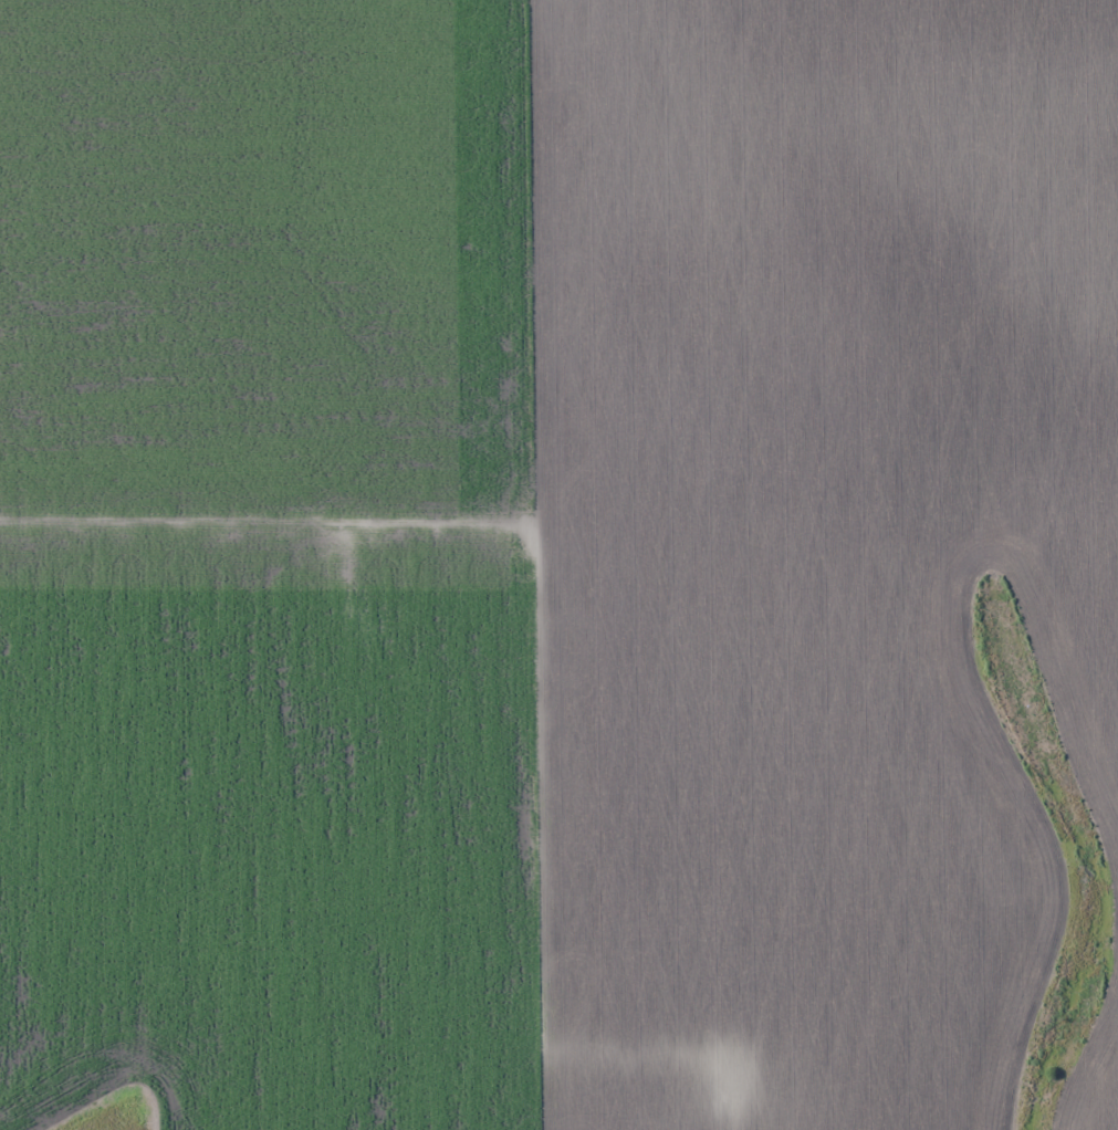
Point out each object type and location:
road: (205, 527)

